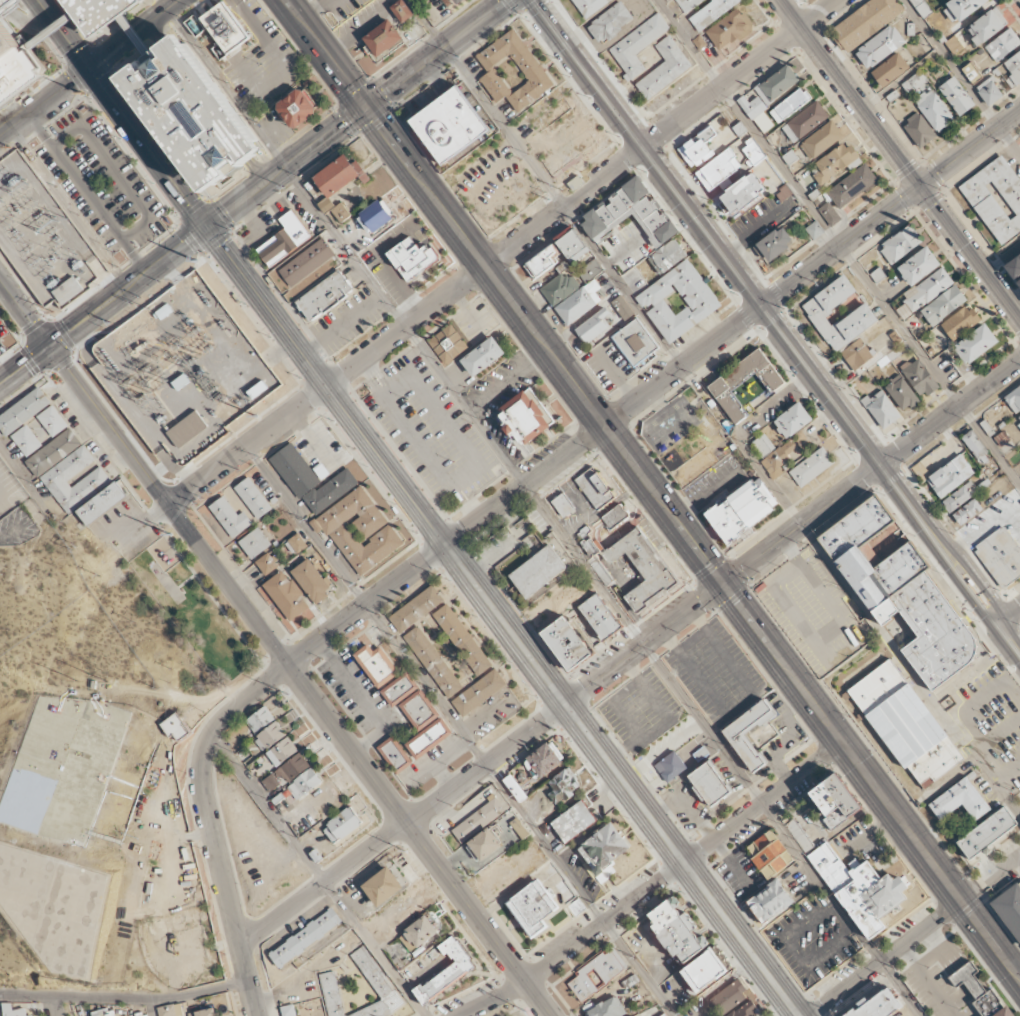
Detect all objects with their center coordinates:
building: (943, 0)
building: (457, 1)
road: (2, 2)
building: (590, 6)
parking lot: (340, 7)
parking lot: (431, 8)
building: (961, 9)
building: (705, 10)
building: (403, 11)
building: (96, 12)
parking lot: (430, 22)
building: (865, 22)
building: (610, 23)
building: (127, 25)
building: (986, 26)
building: (224, 27)
building: (729, 29)
road: (48, 32)
road: (135, 34)
road: (133, 36)
building: (383, 38)
building: (954, 45)
building: (1002, 45)
parking lot: (240, 46)
building: (637, 46)
building: (880, 47)
building: (14, 65)
parking lot: (473, 66)
traffic signals: (90, 69)
building: (665, 69)
building: (890, 70)
building: (1013, 70)
building: (513, 71)
building: (971, 73)
road: (961, 78)
building: (915, 83)
building: (776, 84)
power tower: (79, 91)
building: (989, 91)
building: (956, 96)
road: (44, 102)
building: (789, 104)
traffic signals: (366, 108)
building: (298, 109)
building: (934, 110)
parking lot: (505, 111)
building: (756, 112)
road: (123, 113)
building: (190, 113)
road: (358, 113)
building: (804, 121)
building: (450, 125)
building: (919, 130)
building: (741, 131)
railway: (119, 136)
building: (821, 139)
power tower: (7, 146)
building: (697, 147)
building: (753, 151)
road: (900, 159)
building: (836, 162)
building: (718, 169)
building: (340, 173)
road: (545, 182)
parking lot: (99, 183)
building: (852, 186)
traffic signals: (921, 187)
road: (581, 191)
building: (742, 194)
building: (996, 198)
road: (46, 202)
building: (326, 205)
building: (341, 212)
building: (629, 213)
building: (829, 214)
building: (375, 216)
traffic signals: (208, 227)
road: (134, 229)
parking lot: (256, 229)
building: (348, 229)
building: (814, 229)
power substation: (40, 236)
building: (285, 239)
road: (838, 243)
building: (774, 244)
building: (900, 244)
parking lot: (626, 247)
road: (344, 249)
building: (557, 252)
building: (666, 255)
power tower: (195, 259)
building: (413, 259)
road: (23, 266)
building: (918, 266)
building: (306, 267)
building: (1014, 267)
road: (172, 270)
building: (589, 270)
parking lot: (385, 273)
road: (732, 273)
road: (104, 276)
parking lot: (634, 280)
building: (1018, 282)
building: (559, 287)
building: (68, 291)
building: (323, 296)
building: (678, 300)
building: (578, 302)
building: (943, 305)
road: (104, 306)
building: (622, 308)
power tower: (53, 312)
road: (25, 314)
road: (782, 317)
parking lot: (347, 321)
building: (843, 322)
building: (960, 322)
building: (593, 325)
road: (732, 327)
railway: (775, 328)
road: (220, 334)
parking lot: (6, 339)
building: (634, 342)
building: (976, 343)
road: (86, 345)
building: (448, 345)
road: (279, 351)
building: (485, 358)
parking lot: (608, 364)
power substation: (182, 370)
building: (919, 377)
building: (724, 385)
building: (902, 393)
parking lot: (501, 400)
building: (1014, 400)
road: (466, 405)
road: (129, 406)
building: (881, 409)
building: (23, 411)
building: (526, 417)
building: (1018, 418)
building: (52, 421)
building: (792, 421)
building: (186, 429)
road: (210, 431)
parking lot: (431, 431)
building: (26, 441)
building: (976, 447)
building: (53, 452)
building: (772, 454)
road: (225, 462)
building: (812, 467)
road: (161, 468)
road: (174, 470)
building: (950, 476)
building: (55, 477)
road: (28, 480)
parking lot: (714, 483)
building: (600, 485)
road: (652, 489)
building: (959, 496)
building: (253, 498)
building: (101, 504)
building: (564, 505)
railway: (403, 507)
building: (340, 510)
building: (744, 510)
building: (967, 512)
building: (230, 517)
railway: (410, 521)
road: (792, 532)
road: (9, 533)
building: (254, 543)
building: (295, 544)
parking lot: (498, 547)
building: (1000, 556)
building: (649, 559)
building: (267, 563)
building: (539, 571)
building: (313, 580)
road: (976, 581)
traffic signals: (723, 584)
road: (962, 590)
building: (903, 591)
building: (286, 599)
railway: (985, 599)
building: (416, 609)
parking lot: (813, 612)
park: (191, 613)
building: (602, 616)
road: (1007, 619)
road: (504, 621)
building: (463, 640)
road: (315, 644)
building: (569, 645)
road: (1007, 646)
building: (433, 662)
building: (376, 665)
parking lot: (716, 672)
road: (299, 682)
building: (479, 693)
parking lot: (640, 710)
building: (418, 715)
building: (260, 719)
parking lot: (988, 722)
building: (176, 728)
road: (461, 730)
building: (270, 736)
building: (916, 736)
parking lot: (784, 738)
parking lot: (665, 749)
building: (282, 751)
road: (722, 751)
building: (748, 751)
building: (394, 755)
building: (544, 761)
building: (671, 767)
building: (293, 768)
building: (270, 783)
building: (305, 784)
building: (712, 784)
building: (563, 786)
building: (515, 788)
building: (961, 800)
road: (763, 802)
parking lot: (685, 804)
building: (836, 805)
building: (480, 819)
building: (574, 822)
road: (404, 824)
building: (342, 825)
building: (520, 828)
building: (988, 834)
building: (799, 836)
parking lot: (858, 842)
building: (485, 845)
building: (603, 851)
building: (770, 856)
road: (319, 875)
parking lot: (739, 876)
road: (991, 879)
building: (383, 887)
road: (225, 888)
building: (863, 891)
building: (772, 902)
building: (577, 906)
building: (533, 908)
building: (1009, 909)
building: (677, 931)
building: (419, 934)
building: (305, 938)
parking lot: (813, 940)
road: (577, 944)
road: (886, 958)
building: (448, 971)
building: (704, 971)
building: (597, 973)
parking lot: (931, 986)
building: (382, 988)
building: (979, 990)
building: (727, 999)
road: (124, 1000)
building: (883, 1006)
road: (56, 1007)
road: (151, 1008)
building: (607, 1008)
building: (13, 1010)
building: (170, 1010)
building: (288, 1010)
building: (745, 1011)
building: (103, 1013)
building: (202, 1013)

